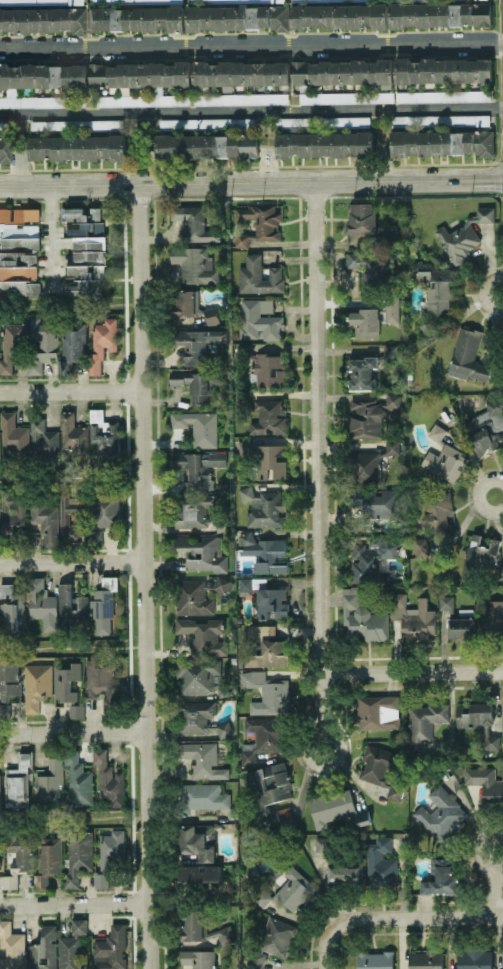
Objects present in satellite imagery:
building: (323, 0)
building: (133, 1)
building: (229, 1)
building: (39, 2)
building: (440, 14)
building: (340, 15)
building: (238, 17)
building: (137, 18)
building: (42, 20)
road: (251, 45)
building: (442, 70)
building: (344, 72)
building: (240, 74)
building: (140, 75)
building: (40, 77)
building: (442, 96)
building: (346, 97)
building: (239, 98)
building: (141, 99)
building: (43, 101)
road: (251, 110)
building: (439, 120)
building: (321, 121)
building: (206, 123)
building: (1, 125)
building: (76, 125)
building: (442, 142)
building: (324, 144)
building: (205, 145)
building: (77, 147)
building: (5, 149)
road: (251, 183)
building: (196, 221)
building: (259, 223)
building: (368, 224)
building: (464, 235)
road: (50, 238)
building: (18, 250)
building: (86, 250)
building: (195, 264)
building: (372, 268)
building: (259, 276)
road: (481, 293)
building: (435, 294)
park: (60, 305)
building: (190, 307)
building: (258, 318)
building: (374, 318)
building: (102, 343)
building: (43, 344)
building: (199, 344)
building: (12, 345)
building: (72, 346)
building: (471, 358)
building: (265, 367)
building: (368, 368)
building: (196, 383)
road: (69, 390)
building: (263, 413)
building: (369, 415)
building: (198, 426)
building: (486, 427)
building: (104, 431)
building: (13, 435)
building: (72, 435)
building: (43, 440)
road: (314, 456)
building: (443, 456)
building: (265, 457)
building: (371, 463)
building: (198, 468)
park: (61, 476)
road: (478, 495)
building: (379, 501)
building: (264, 507)
building: (199, 512)
building: (87, 516)
building: (435, 518)
building: (46, 522)
building: (203, 552)
building: (264, 552)
building: (480, 554)
building: (374, 560)
road: (70, 562)
road: (141, 577)
building: (197, 595)
building: (266, 597)
building: (42, 603)
building: (10, 607)
building: (84, 610)
building: (362, 616)
building: (413, 617)
building: (458, 618)
building: (494, 618)
building: (204, 635)
park: (63, 647)
building: (266, 647)
road: (410, 674)
building: (203, 676)
building: (99, 677)
building: (8, 679)
building: (66, 681)
building: (36, 685)
building: (267, 692)
building: (76, 710)
building: (377, 712)
building: (200, 717)
building: (478, 721)
road: (329, 731)
road: (72, 733)
building: (263, 736)
building: (502, 744)
building: (202, 759)
building: (380, 769)
building: (108, 780)
building: (18, 781)
building: (78, 781)
building: (0, 782)
building: (485, 783)
building: (49, 784)
building: (271, 790)
building: (201, 797)
building: (335, 808)
building: (441, 814)
building: (197, 840)
building: (324, 843)
road: (472, 851)
building: (78, 855)
building: (109, 856)
building: (18, 859)
building: (48, 859)
building: (380, 863)
building: (344, 871)
building: (199, 873)
building: (441, 878)
building: (296, 890)
road: (493, 892)
building: (262, 897)
road: (73, 905)
road: (413, 916)
building: (201, 926)
building: (276, 936)
building: (72, 946)
building: (11, 947)
building: (112, 948)
building: (44, 949)
road: (325, 950)
building: (502, 956)
building: (199, 958)
building: (475, 958)
building: (425, 959)
building: (375, 960)

